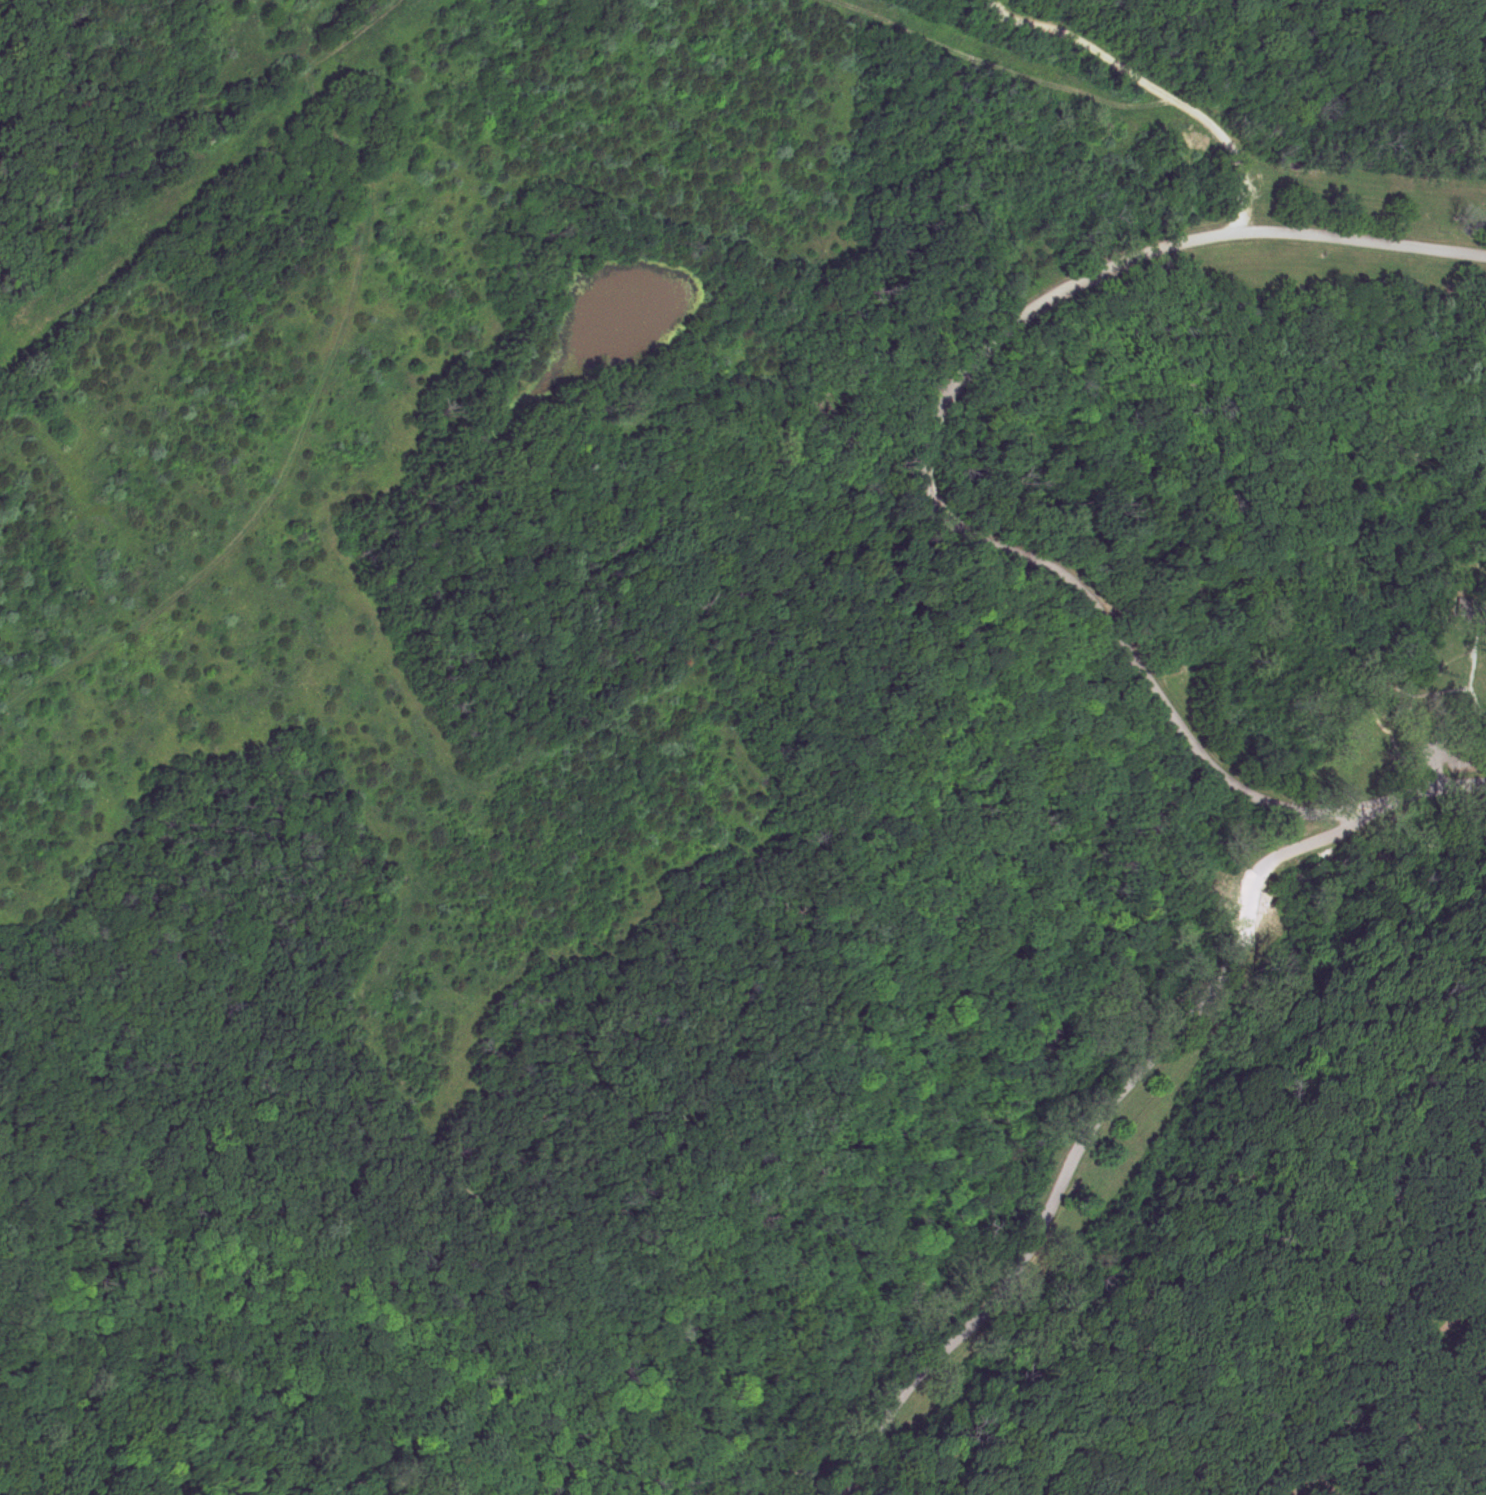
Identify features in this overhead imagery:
road: (922, 490)
road: (1479, 656)
park: (743, 747)
parking lot: (1453, 751)
road: (1444, 758)
road: (944, 905)
road: (1074, 1158)
road: (134, 1167)
road: (192, 1366)

